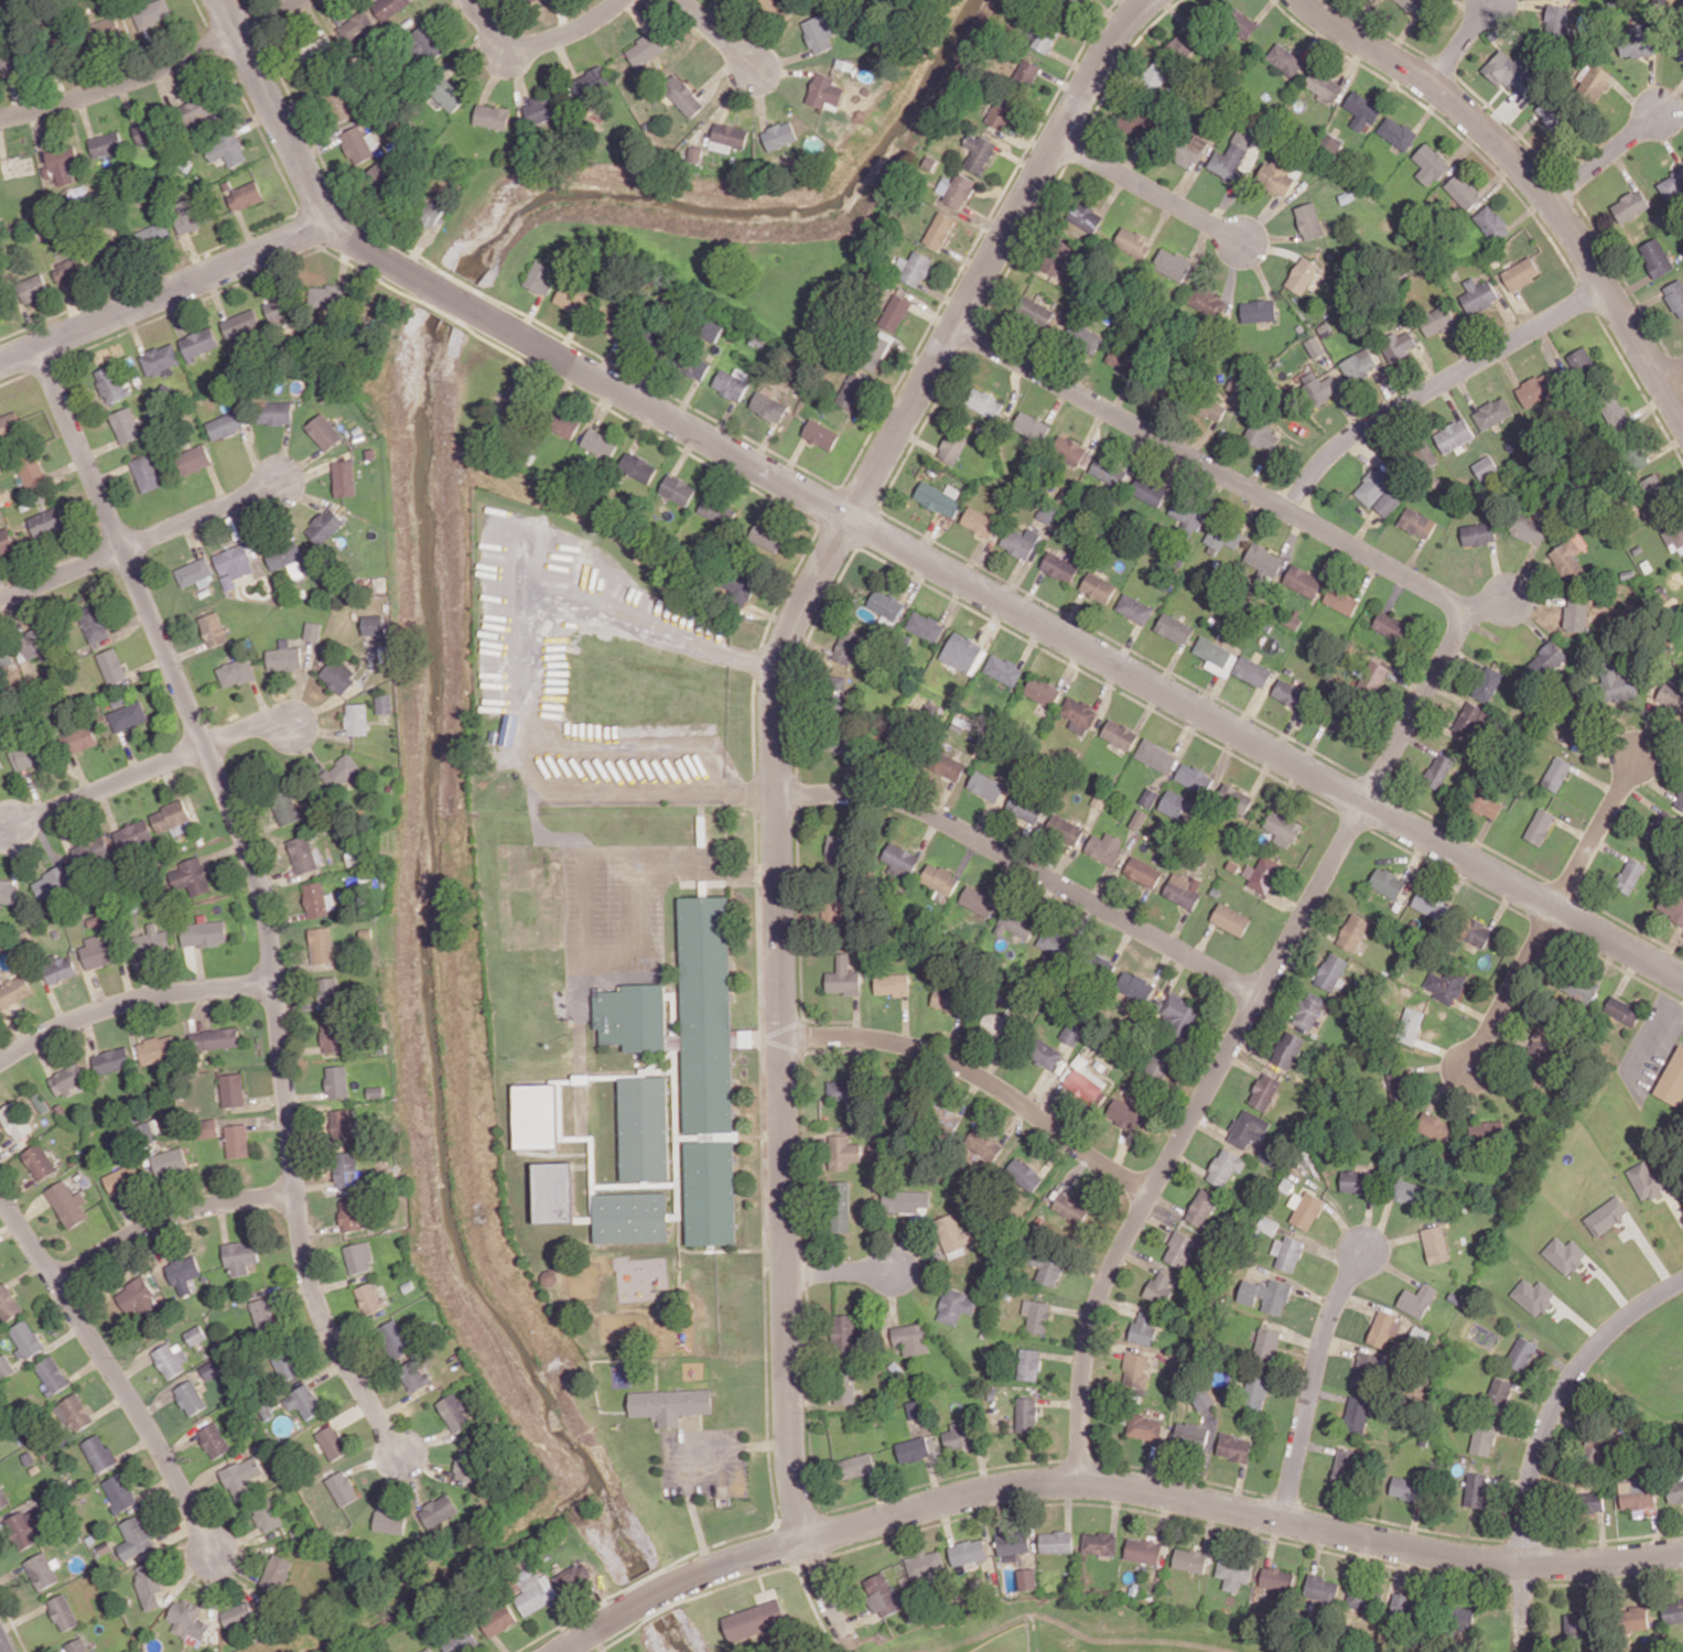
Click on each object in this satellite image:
building: (1071, 1)
building: (772, 4)
building: (1414, 6)
building: (389, 7)
building: (152, 12)
building: (1556, 20)
building: (1242, 23)
building: (356, 26)
building: (821, 30)
building: (109, 31)
road: (716, 33)
building: (1042, 37)
building: (427, 41)
building: (1637, 41)
road: (539, 44)
building: (1186, 44)
road: (1460, 44)
building: (645, 48)
building: (1680, 50)
building: (1285, 60)
building: (11, 61)
building: (1511, 69)
road: (154, 71)
building: (1157, 73)
building: (1026, 74)
building: (1592, 80)
building: (591, 83)
building: (824, 90)
building: (683, 95)
building: (449, 96)
building: (344, 104)
building: (541, 109)
building: (1361, 109)
building: (197, 111)
building: (1001, 111)
building: (493, 116)
building: (1550, 117)
road: (281, 125)
building: (1135, 125)
building: (1396, 132)
building: (780, 134)
building: (729, 137)
building: (1331, 142)
building: (106, 143)
building: (356, 144)
building: (1188, 149)
building: (227, 150)
building: (979, 152)
building: (695, 153)
building: (1236, 154)
road: (1605, 155)
building: (62, 163)
building: (1430, 163)
building: (1276, 175)
road: (1530, 176)
building: (1672, 185)
building: (956, 190)
road: (1148, 190)
building: (1463, 191)
building: (1630, 205)
building: (432, 213)
building: (187, 215)
building: (1085, 215)
building: (1309, 220)
building: (1492, 223)
building: (939, 229)
building: (152, 236)
building: (1132, 241)
building: (1058, 257)
building: (1655, 257)
building: (1172, 263)
building: (914, 268)
building: (69, 270)
building: (1521, 272)
building: (1302, 274)
building: (541, 278)
building: (32, 288)
road: (163, 291)
road: (443, 292)
building: (1478, 294)
building: (327, 295)
building: (1675, 296)
building: (573, 299)
building: (1208, 301)
building: (2, 305)
building: (279, 307)
building: (1035, 310)
building: (1258, 310)
building: (895, 312)
building: (1436, 321)
building: (241, 324)
building: (615, 325)
building: (711, 330)
building: (1082, 337)
building: (198, 343)
building: (1398, 344)
building: (1315, 346)
building: (874, 349)
building: (160, 359)
building: (1123, 359)
building: (1580, 361)
building: (691, 364)
building: (1359, 365)
road: (1671, 372)
building: (111, 384)
building: (730, 385)
road: (1435, 386)
building: (1319, 388)
building: (1534, 389)
building: (852, 391)
building: (517, 396)
building: (984, 402)
building: (768, 406)
building: (1213, 406)
building: (274, 412)
building: (1492, 412)
building: (1615, 413)
building: (126, 424)
building: (226, 424)
building: (565, 424)
building: (10, 425)
building: (1031, 425)
building: (324, 431)
building: (820, 433)
building: (1261, 434)
building: (1454, 435)
building: (600, 443)
building: (952, 446)
building: (1071, 451)
building: (1636, 456)
building: (194, 458)
building: (638, 466)
building: (1486, 466)
road: (1210, 467)
building: (32, 471)
building: (1108, 471)
building: (145, 472)
building: (345, 477)
building: (1373, 486)
building: (1652, 487)
building: (677, 488)
building: (1148, 489)
building: (939, 497)
building: (1389, 501)
building: (716, 509)
road: (199, 514)
building: (1188, 515)
building: (978, 521)
building: (46, 522)
building: (1417, 522)
building: (325, 526)
building: (1529, 528)
building: (1478, 533)
building: (767, 535)
building: (1673, 535)
building: (1221, 537)
building: (6, 541)
building: (1019, 541)
building: (285, 557)
building: (1568, 559)
building: (1263, 561)
building: (234, 563)
building: (1059, 565)
road: (61, 573)
building: (195, 573)
building: (1303, 580)
building: (1098, 586)
building: (740, 587)
building: (1341, 600)
building: (885, 603)
building: (1134, 607)
building: (1576, 614)
building: (94, 624)
building: (925, 626)
building: (1391, 626)
building: (213, 628)
building: (1174, 628)
building: (313, 630)
building: (848, 644)
building: (29, 646)
building: (963, 654)
building: (284, 656)
building: (1216, 656)
building: (1546, 660)
road: (1108, 661)
building: (111, 666)
river: (434, 667)
building: (1003, 669)
building: (1252, 670)
building: (236, 671)
building: (338, 673)
building: (1372, 677)
building: (1488, 683)
building: (1618, 684)
building: (835, 685)
building: (1042, 691)
building: (1671, 695)
building: (1292, 697)
building: (385, 703)
road: (526, 704)
building: (1079, 714)
building: (128, 715)
building: (1468, 717)
building: (357, 719)
road: (248, 726)
building: (510, 728)
building: (1120, 734)
building: (1576, 735)
building: (80, 738)
building: (25, 755)
building: (1155, 755)
building: (1, 765)
road: (776, 765)
building: (947, 765)
building: (1439, 770)
building: (342, 771)
building: (1556, 773)
building: (1194, 777)
road: (108, 786)
building: (986, 786)
building: (1148, 797)
building: (1234, 798)
building: (1680, 800)
building: (1486, 802)
building: (1173, 803)
building: (284, 806)
building: (1025, 806)
building: (172, 818)
building: (1139, 819)
building: (1540, 825)
building: (1660, 827)
building: (1282, 828)
building: (1065, 829)
road: (1596, 832)
building: (132, 833)
building: (1105, 846)
building: (837, 851)
building: (91, 852)
building: (304, 855)
building: (899, 860)
road: (1025, 865)
building: (1143, 871)
building: (1262, 873)
building: (1629, 875)
building: (191, 876)
building: (939, 878)
building: (52, 882)
building: (1387, 882)
building: (1183, 889)
building: (8, 890)
road: (261, 890)
building: (315, 899)
building: (978, 900)
building: (1431, 905)
building: (1671, 905)
park: (1679, 913)
building: (1230, 919)
building: (1016, 922)
building: (1476, 930)
building: (1353, 931)
building: (204, 933)
road: (629, 939)
building: (152, 940)
building: (1056, 941)
building: (321, 944)
building: (98, 951)
building: (1097, 964)
building: (60, 969)
building: (1331, 971)
building: (843, 976)
building: (892, 983)
building: (1446, 985)
building: (1134, 986)
building: (1578, 986)
road: (1511, 987)
building: (14, 991)
building: (328, 992)
building: (947, 997)
road: (130, 1000)
building: (1308, 1009)
building: (1622, 1009)
building: (1177, 1014)
building: (635, 1018)
building: (996, 1022)
building: (1410, 1025)
building: (1071, 1033)
road: (1237, 1035)
building: (333, 1036)
building: (214, 1038)
building: (1542, 1039)
building: (158, 1049)
building: (1287, 1049)
building: (1045, 1054)
building: (110, 1060)
building: (1158, 1062)
building: (708, 1069)
road: (980, 1077)
building: (67, 1079)
building: (1672, 1079)
building: (337, 1081)
building: (1086, 1082)
building: (1394, 1084)
building: (233, 1089)
building: (842, 1089)
building: (376, 1091)
building: (1264, 1091)
building: (1125, 1114)
building: (537, 1115)
building: (945, 1117)
building: (14, 1120)
building: (343, 1122)
building: (1434, 1126)
building: (209, 1127)
building: (644, 1127)
building: (1248, 1129)
building: (1488, 1131)
building: (237, 1140)
building: (983, 1143)
building: (843, 1152)
building: (169, 1160)
building: (39, 1162)
building: (1225, 1166)
building: (345, 1167)
building: (1024, 1173)
building: (123, 1178)
building: (1646, 1179)
building: (1355, 1181)
building: (553, 1191)
building: (1406, 1191)
building: (905, 1200)
building: (67, 1202)
building: (840, 1206)
building: (1070, 1207)
building: (1201, 1207)
building: (1305, 1209)
building: (353, 1214)
building: (1606, 1214)
road: (168, 1217)
building: (630, 1217)
building: (1267, 1224)
building: (950, 1235)
building: (1435, 1244)
building: (1180, 1249)
building: (1287, 1252)
building: (1564, 1254)
building: (239, 1255)
building: (359, 1256)
building: (1047, 1266)
road: (839, 1272)
building: (183, 1273)
building: (1159, 1285)
building: (1265, 1294)
building: (1533, 1295)
building: (370, 1296)
building: (1416, 1299)
building: (8, 1303)
building: (956, 1305)
building: (263, 1313)
building: (1036, 1315)
building: (1383, 1328)
building: (1143, 1329)
building: (195, 1335)
building: (1418, 1336)
building: (25, 1338)
building: (910, 1338)
building: (396, 1340)
building: (1266, 1345)
building: (1521, 1353)
building: (171, 1359)
building: (284, 1363)
building: (1028, 1363)
building: (6, 1365)
building: (1135, 1369)
building: (1366, 1371)
road: (112, 1372)
building: (51, 1374)
building: (414, 1375)
road: (1313, 1381)
building: (845, 1386)
building: (1255, 1390)
building: (1499, 1393)
building: (190, 1396)
building: (1202, 1399)
building: (303, 1401)
building: (670, 1404)
building: (916, 1407)
building: (75, 1412)
building: (454, 1412)
building: (1357, 1413)
building: (1026, 1414)
building: (1144, 1426)
building: (958, 1434)
building: (1190, 1436)
road: (1542, 1437)
building: (214, 1439)
building: (1482, 1439)
building: (332, 1442)
building: (1234, 1447)
building: (913, 1449)
building: (99, 1453)
road: (686, 1457)
building: (1345, 1460)
building: (467, 1464)
building: (856, 1465)
building: (242, 1476)
building: (342, 1488)
building: (1409, 1488)
building: (1476, 1490)
building: (1675, 1490)
building: (120, 1491)
building: (1637, 1494)
road: (1174, 1496)
building: (3, 1498)
building: (1589, 1501)
building: (438, 1510)
building: (267, 1516)
building: (389, 1521)
building: (22, 1529)
building: (136, 1536)
building: (1055, 1541)
building: (1099, 1543)
building: (1012, 1545)
building: (1143, 1550)
building: (968, 1551)
building: (1189, 1559)
building: (926, 1565)
building: (42, 1570)
building: (1233, 1572)
building: (276, 1573)
river: (457, 1575)
building: (573, 1577)
building: (1277, 1577)
building: (1026, 1578)
building: (148, 1584)
building: (1321, 1588)
building: (536, 1592)
building: (883, 1595)
road: (649, 1598)
building: (1366, 1598)
building: (1404, 1606)
building: (1672, 1610)
building: (63, 1611)
building: (238, 1615)
building: (1463, 1616)
building: (1635, 1618)
building: (754, 1619)
building: (498, 1620)
building: (187, 1621)
road: (563, 1621)
building: (1577, 1623)
road: (589, 1631)
park: (1013, 1641)
building: (461, 1642)
building: (78, 1645)
building: (427, 1650)

